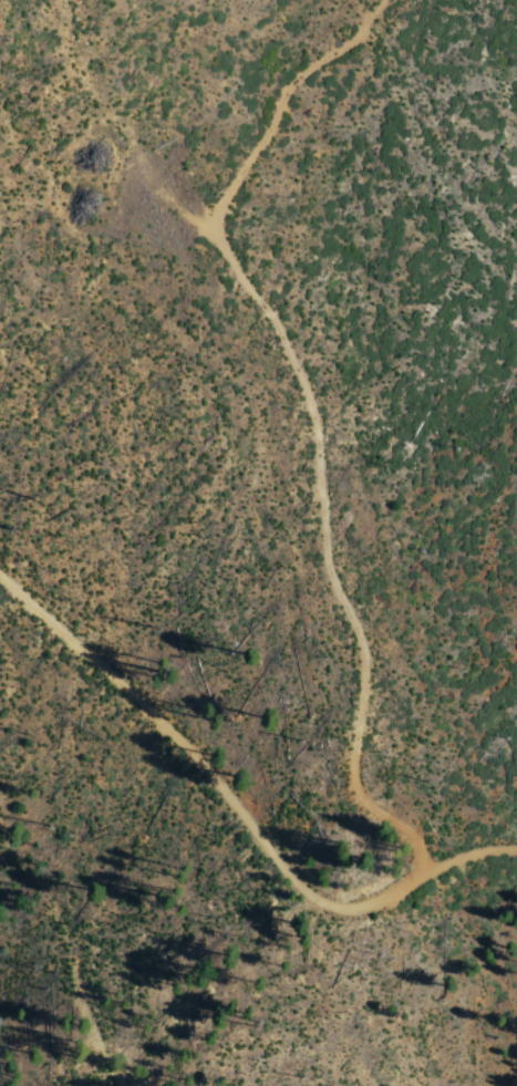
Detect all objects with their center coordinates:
road: (238, 809)

